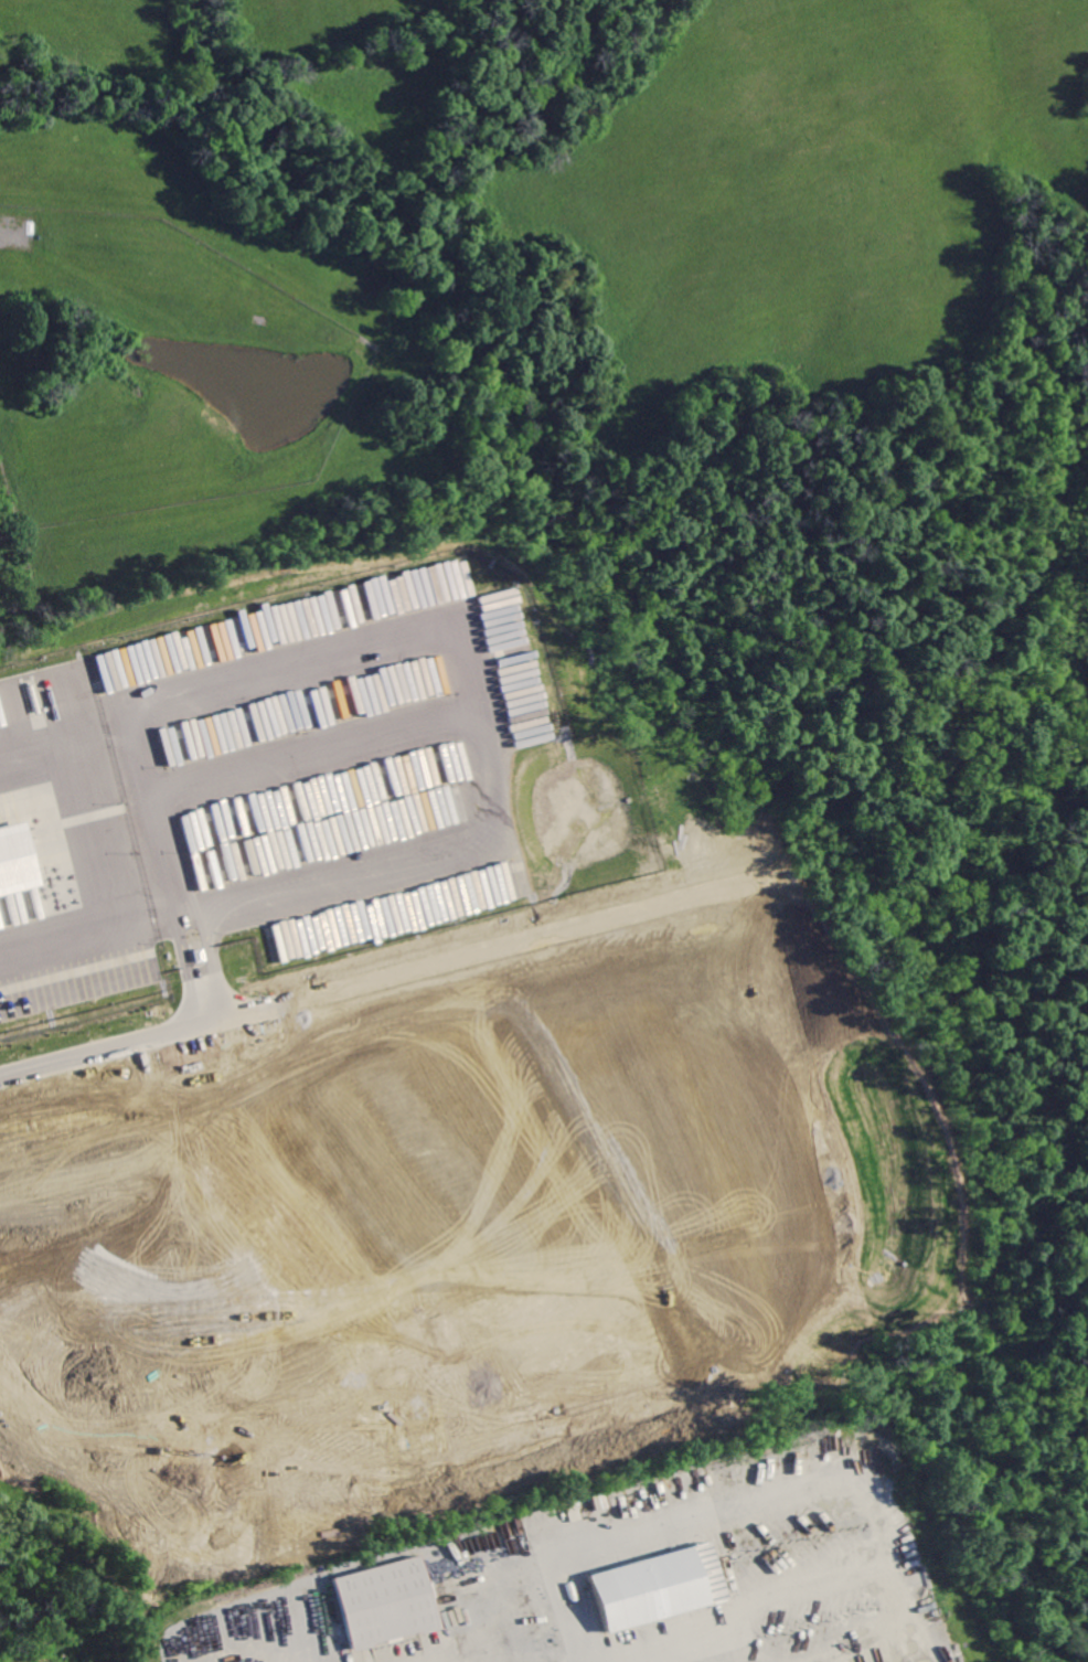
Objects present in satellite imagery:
road: (310, 754)
road: (105, 848)
building: (17, 863)
road: (200, 916)
road: (185, 920)
road: (384, 1048)
road: (822, 1132)
road: (12, 1310)
road: (759, 1489)
building: (654, 1586)
building: (373, 1607)
park: (75, 1642)
building: (480, 1643)
building: (483, 1658)
road: (567, 1661)
road: (576, 1661)
road: (839, 1661)

